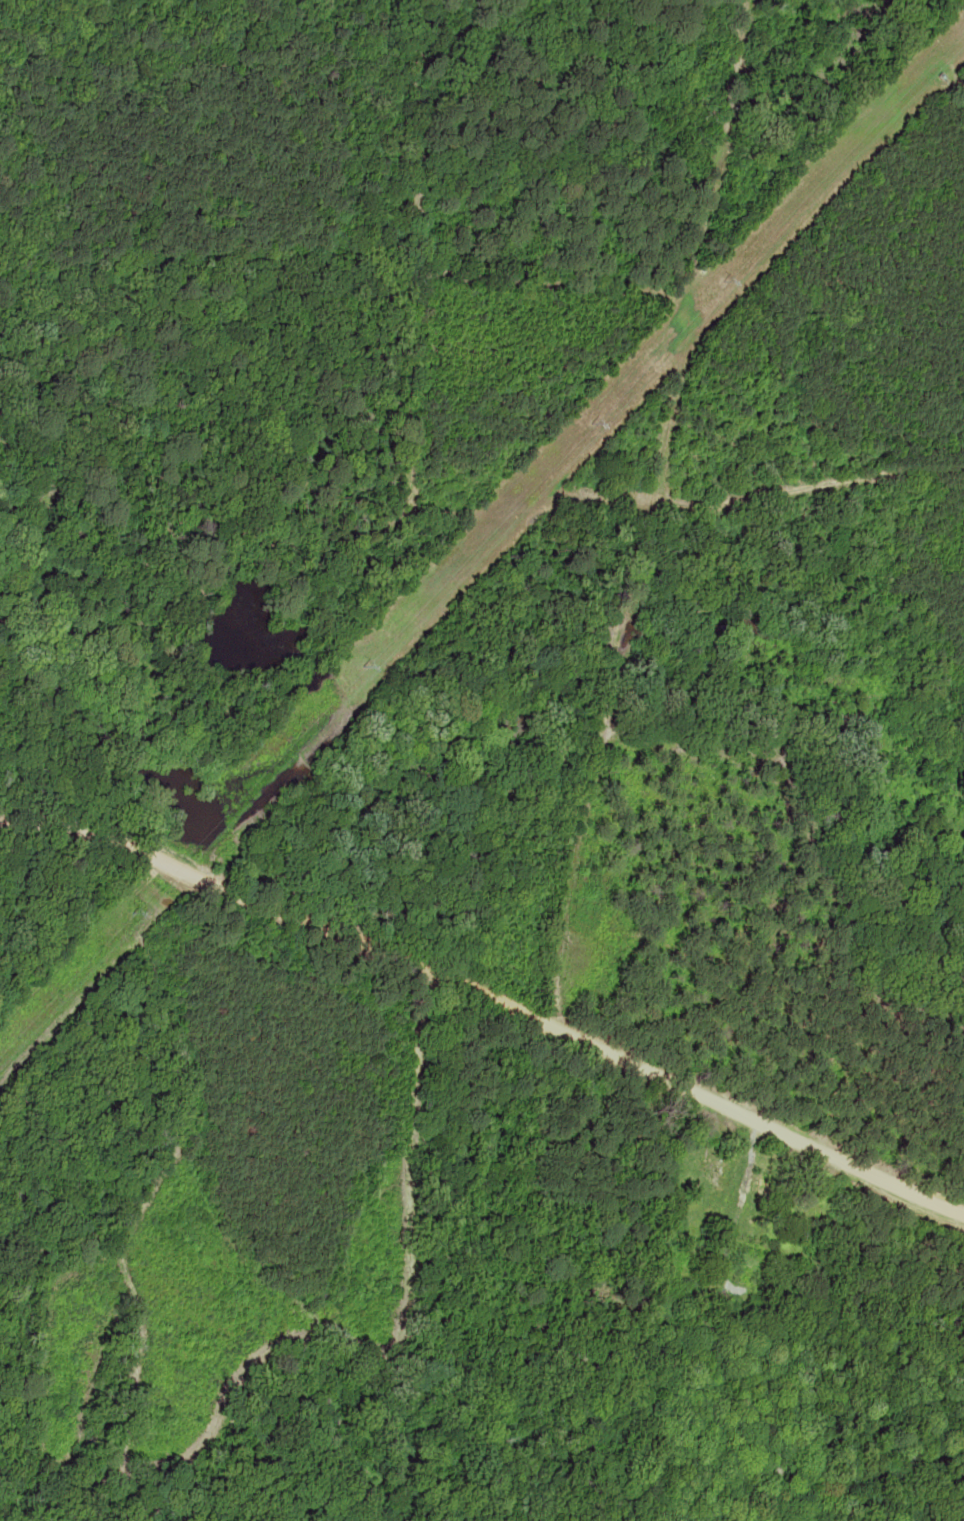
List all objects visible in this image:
road: (488, 1002)
building: (719, 1172)

